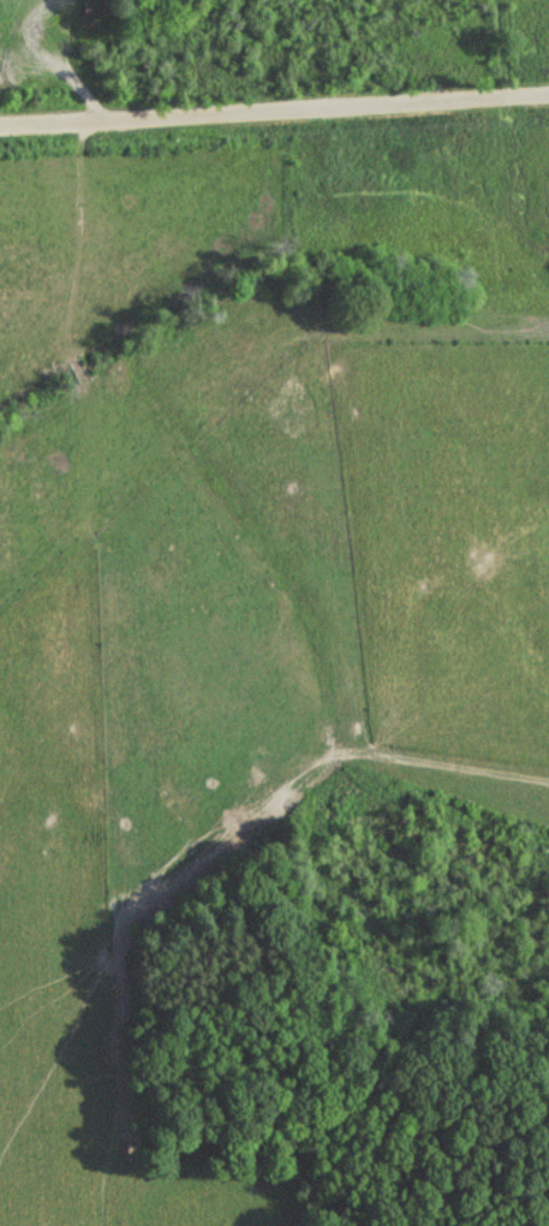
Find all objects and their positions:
road: (274, 135)

